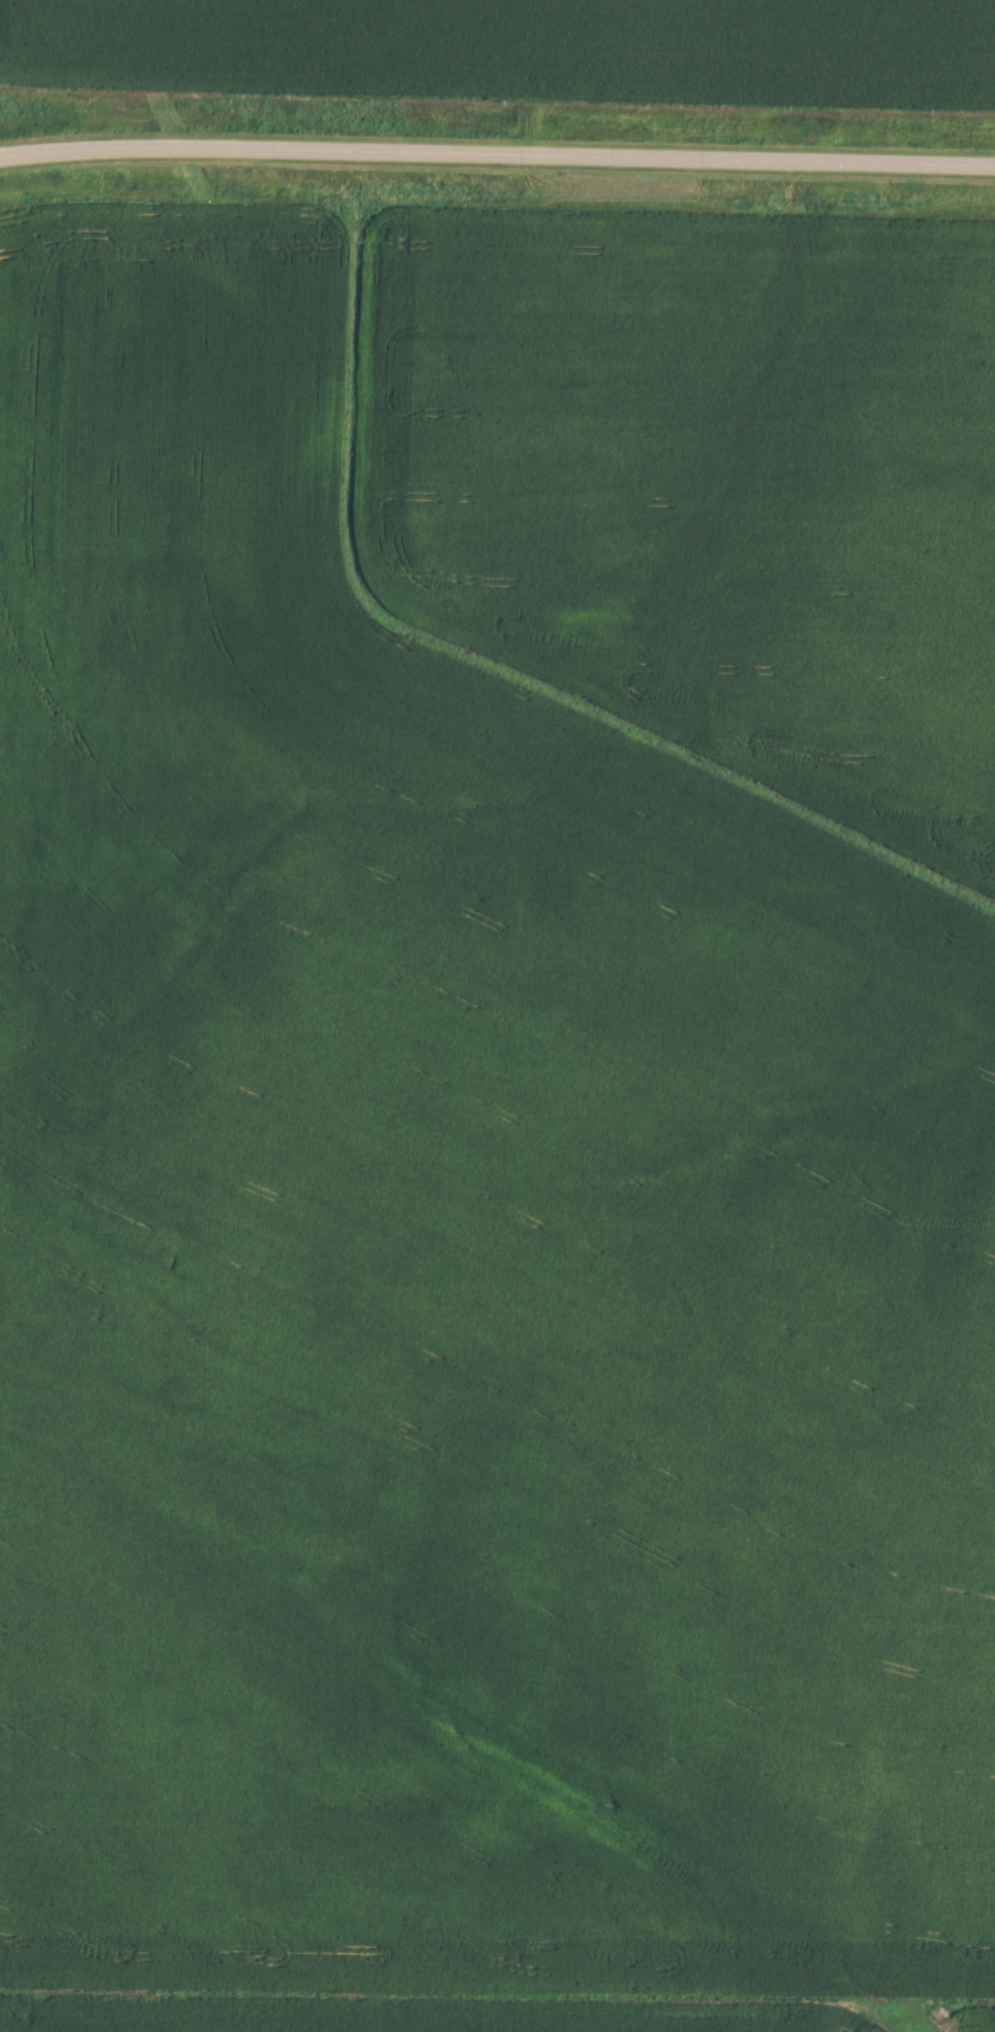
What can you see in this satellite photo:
road: (497, 149)

